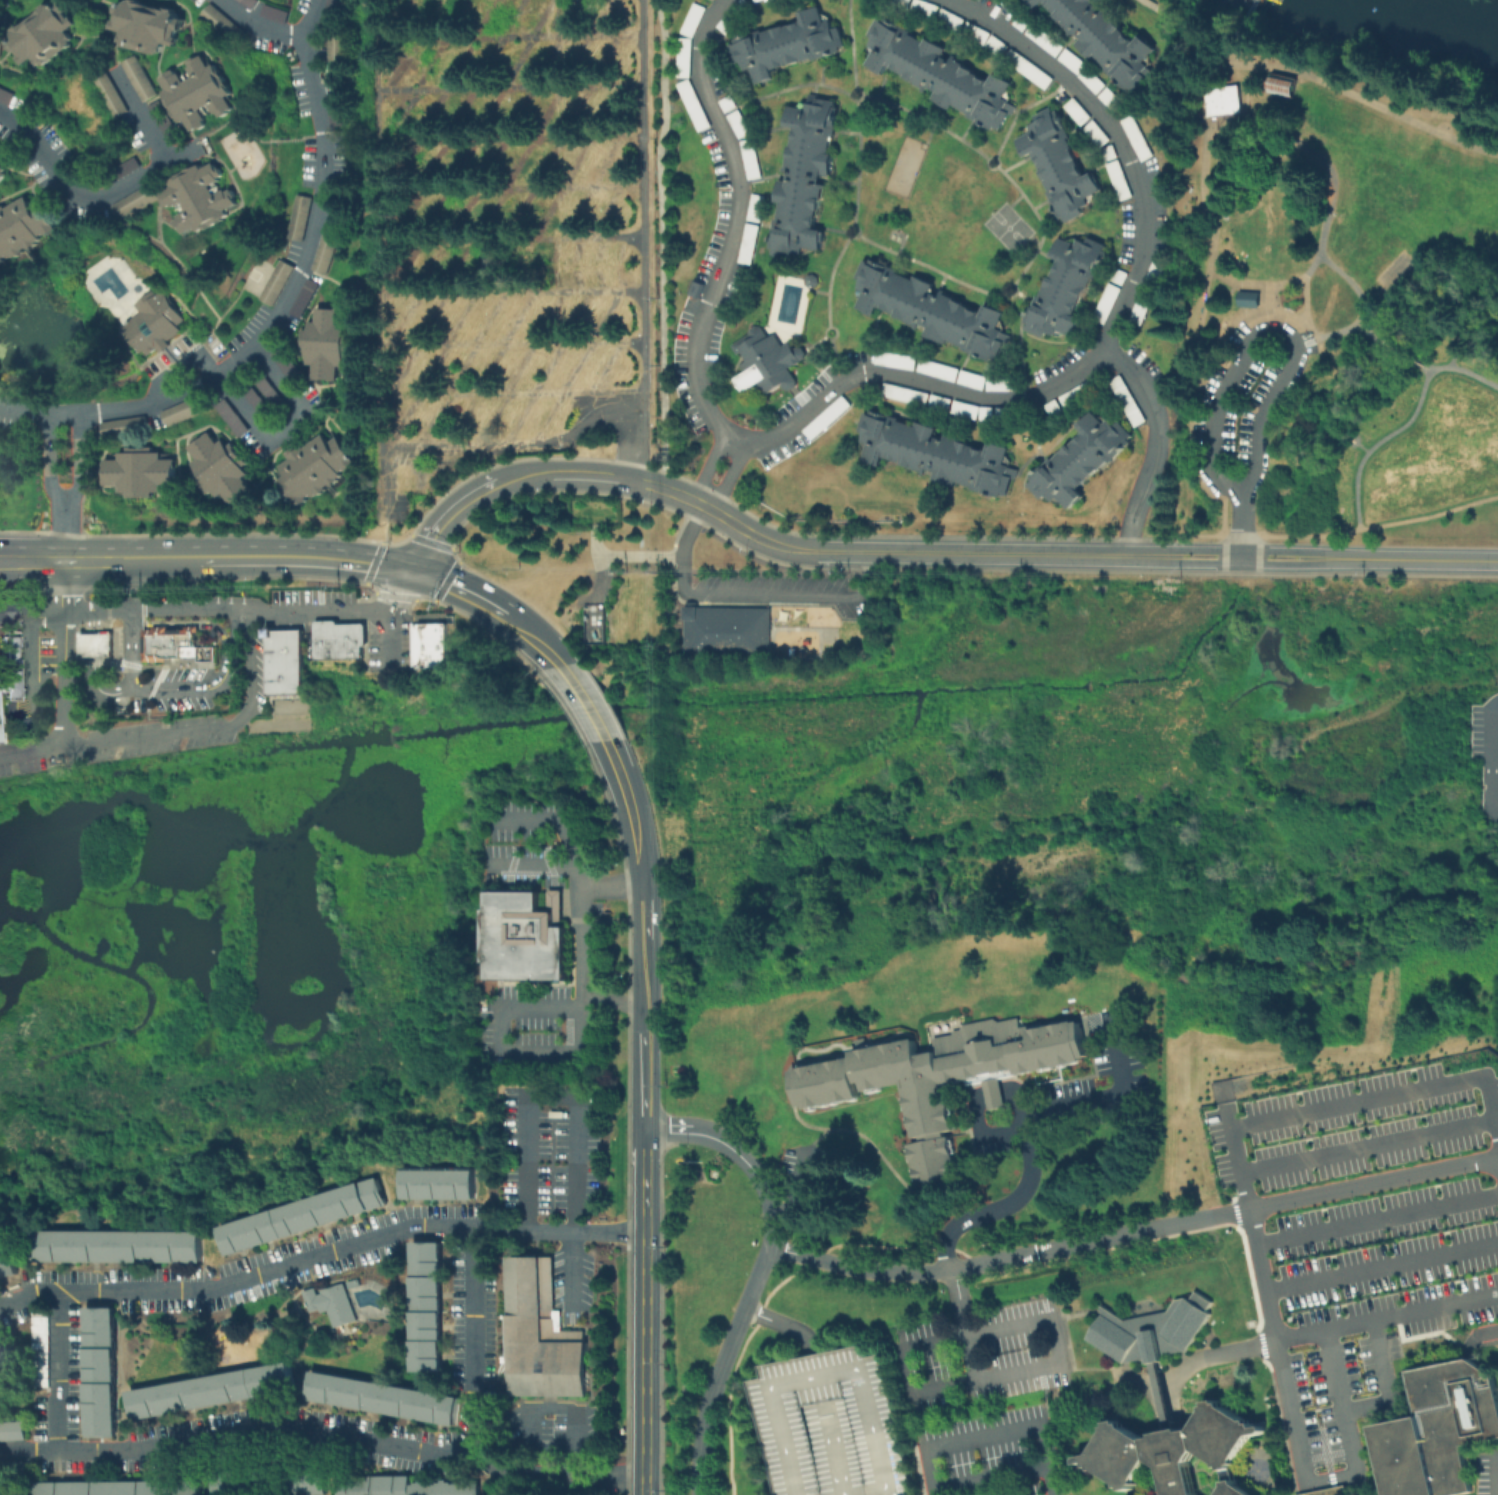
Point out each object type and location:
building: (15, 0)
building: (760, 1)
road: (714, 2)
road: (1152, 2)
building: (901, 3)
building: (250, 4)
building: (926, 9)
river: (1453, 11)
building: (333, 12)
building: (277, 15)
building: (736, 16)
road: (1245, 18)
building: (950, 19)
road: (1031, 19)
building: (223, 20)
building: (694, 21)
building: (1022, 24)
road: (261, 25)
building: (151, 27)
road: (1239, 30)
building: (2, 33)
building: (977, 34)
building: (50, 36)
parking lot: (975, 37)
parking lot: (725, 39)
road: (811, 40)
road: (1070, 40)
building: (1108, 41)
building: (1046, 42)
road: (851, 43)
road: (764, 45)
building: (789, 46)
building: (998, 47)
building: (337, 49)
road: (894, 49)
road: (1171, 51)
parking lot: (1057, 52)
building: (684, 58)
road: (941, 61)
building: (1075, 63)
building: (1030, 70)
building: (943, 76)
road: (1317, 76)
road: (1111, 78)
building: (146, 80)
building: (1095, 82)
building: (1283, 85)
road: (813, 88)
road: (781, 89)
road: (988, 89)
road: (1199, 92)
road: (849, 94)
building: (204, 95)
building: (9, 97)
building: (119, 98)
road: (1135, 100)
building: (1225, 100)
building: (1114, 101)
building: (728, 105)
building: (695, 107)
road: (1021, 108)
building: (1079, 111)
building: (339, 113)
road: (147, 117)
road: (927, 119)
building: (171, 120)
building: (739, 126)
road: (791, 127)
road: (929, 132)
building: (1099, 134)
parking lot: (741, 137)
building: (1141, 139)
road: (1051, 144)
building: (1111, 153)
road: (987, 157)
building: (752, 163)
road: (857, 163)
building: (1060, 165)
building: (131, 170)
building: (6, 171)
building: (807, 176)
road: (796, 177)
road: (1078, 178)
road: (1324, 180)
building: (1122, 182)
road: (89, 196)
building: (205, 197)
road: (1014, 199)
building: (142, 202)
building: (756, 208)
parking lot: (1128, 209)
building: (302, 220)
road: (1040, 221)
road: (729, 223)
road: (789, 227)
road: (854, 227)
park: (1007, 227)
building: (28, 230)
parking lot: (1159, 232)
parking lot: (715, 235)
road: (660, 243)
road: (1208, 244)
building: (750, 247)
road: (1141, 250)
building: (328, 251)
road: (929, 266)
building: (530, 268)
road: (1081, 269)
building: (1121, 276)
parking lot: (733, 278)
road: (829, 278)
building: (279, 284)
road: (1004, 286)
building: (1067, 288)
building: (696, 290)
road: (814, 290)
park: (1329, 292)
building: (1149, 293)
building: (1247, 298)
building: (308, 300)
building: (1108, 305)
road: (283, 309)
road: (1304, 311)
road: (1274, 312)
building: (934, 314)
road: (1064, 315)
road: (875, 317)
road: (924, 324)
building: (156, 325)
road: (828, 326)
road: (1344, 328)
road: (1268, 333)
road: (1461, 336)
road: (1203, 341)
road: (1019, 342)
building: (328, 345)
road: (1402, 353)
road: (805, 357)
road: (836, 358)
road: (1452, 358)
building: (898, 360)
building: (768, 363)
parking lot: (1055, 365)
road: (1425, 365)
building: (291, 367)
parking lot: (1146, 368)
parking lot: (935, 370)
building: (939, 371)
road: (958, 374)
road: (913, 378)
building: (972, 381)
building: (1002, 386)
parking lot: (803, 393)
building: (1081, 393)
building: (908, 395)
building: (265, 396)
building: (1128, 401)
parking lot: (1244, 402)
parking lot: (947, 403)
building: (941, 404)
road: (1186, 408)
road: (892, 409)
building: (1055, 409)
building: (187, 412)
building: (967, 412)
building: (1011, 414)
building: (988, 415)
building: (829, 418)
building: (234, 419)
road: (1071, 419)
road: (1407, 420)
road: (290, 427)
building: (126, 428)
parking lot: (803, 432)
road: (1349, 435)
road: (1035, 438)
road: (501, 447)
road: (1361, 447)
road: (631, 453)
building: (940, 456)
road: (50, 461)
road: (80, 461)
building: (1083, 462)
road: (1051, 465)
road: (706, 467)
building: (222, 470)
building: (317, 470)
building: (143, 473)
road: (602, 477)
road: (726, 478)
building: (419, 479)
road: (1222, 497)
road: (1242, 524)
road: (1379, 524)
road: (65, 529)
road: (1250, 535)
road: (306, 556)
road: (1158, 556)
road: (122, 557)
road: (23, 558)
traffic signals: (413, 572)
road: (462, 589)
parking lot: (782, 590)
road: (749, 594)
parking lot: (312, 604)
road: (220, 610)
road: (132, 616)
road: (93, 620)
road: (208, 622)
building: (594, 622)
road: (6, 625)
road: (525, 629)
building: (728, 633)
building: (338, 639)
building: (167, 642)
road: (92, 643)
building: (94, 643)
parking lot: (389, 644)
building: (430, 644)
road: (391, 646)
road: (549, 654)
building: (284, 661)
building: (6, 667)
road: (6, 667)
road: (63, 677)
road: (187, 687)
road: (99, 688)
road: (29, 690)
road: (585, 699)
road: (204, 728)
parking lot: (155, 734)
parking lot: (1485, 750)
parking lot: (38, 753)
road: (1490, 758)
road: (616, 759)
road: (562, 823)
road: (636, 831)
road: (532, 865)
road: (655, 907)
road: (582, 911)
building: (529, 938)
road: (635, 959)
road: (655, 985)
road: (610, 999)
parking lot: (1115, 1048)
road: (500, 1049)
building: (945, 1081)
road: (645, 1082)
parking lot: (1060, 1090)
road: (995, 1092)
road: (1103, 1095)
road: (1338, 1104)
road: (1019, 1107)
road: (576, 1108)
road: (982, 1128)
parking lot: (1352, 1128)
road: (1369, 1147)
parking lot: (549, 1157)
parking lot: (802, 1183)
building: (441, 1185)
building: (305, 1217)
road: (969, 1217)
road: (1377, 1220)
road: (584, 1231)
road: (1134, 1234)
building: (123, 1249)
road: (1382, 1268)
building: (0, 1269)
road: (760, 1273)
road: (262, 1274)
parking lot: (1376, 1289)
building: (431, 1305)
building: (334, 1306)
road: (644, 1312)
road: (1051, 1316)
road: (796, 1330)
building: (1150, 1330)
road: (1325, 1330)
building: (543, 1332)
road: (1480, 1333)
road: (475, 1341)
building: (43, 1343)
building: (5, 1350)
parking lot: (982, 1355)
road: (59, 1371)
building: (101, 1374)
road: (1387, 1384)
building: (214, 1393)
building: (1162, 1398)
building: (386, 1400)
road: (543, 1407)
road: (868, 1407)
road: (780, 1417)
building: (828, 1425)
parking lot: (828, 1425)
road: (288, 1426)
building: (1438, 1429)
building: (13, 1431)
road: (993, 1433)
road: (830, 1436)
road: (1296, 1440)
building: (1174, 1450)
parking lot: (991, 1454)
parking lot: (1486, 1473)
road: (990, 1475)
road: (1496, 1475)
road: (609, 1477)
building: (275, 1482)
building: (406, 1486)
building: (11, 1489)
building: (121, 1489)
road: (865, 1491)
road: (884, 1491)
building: (1328, 1491)

